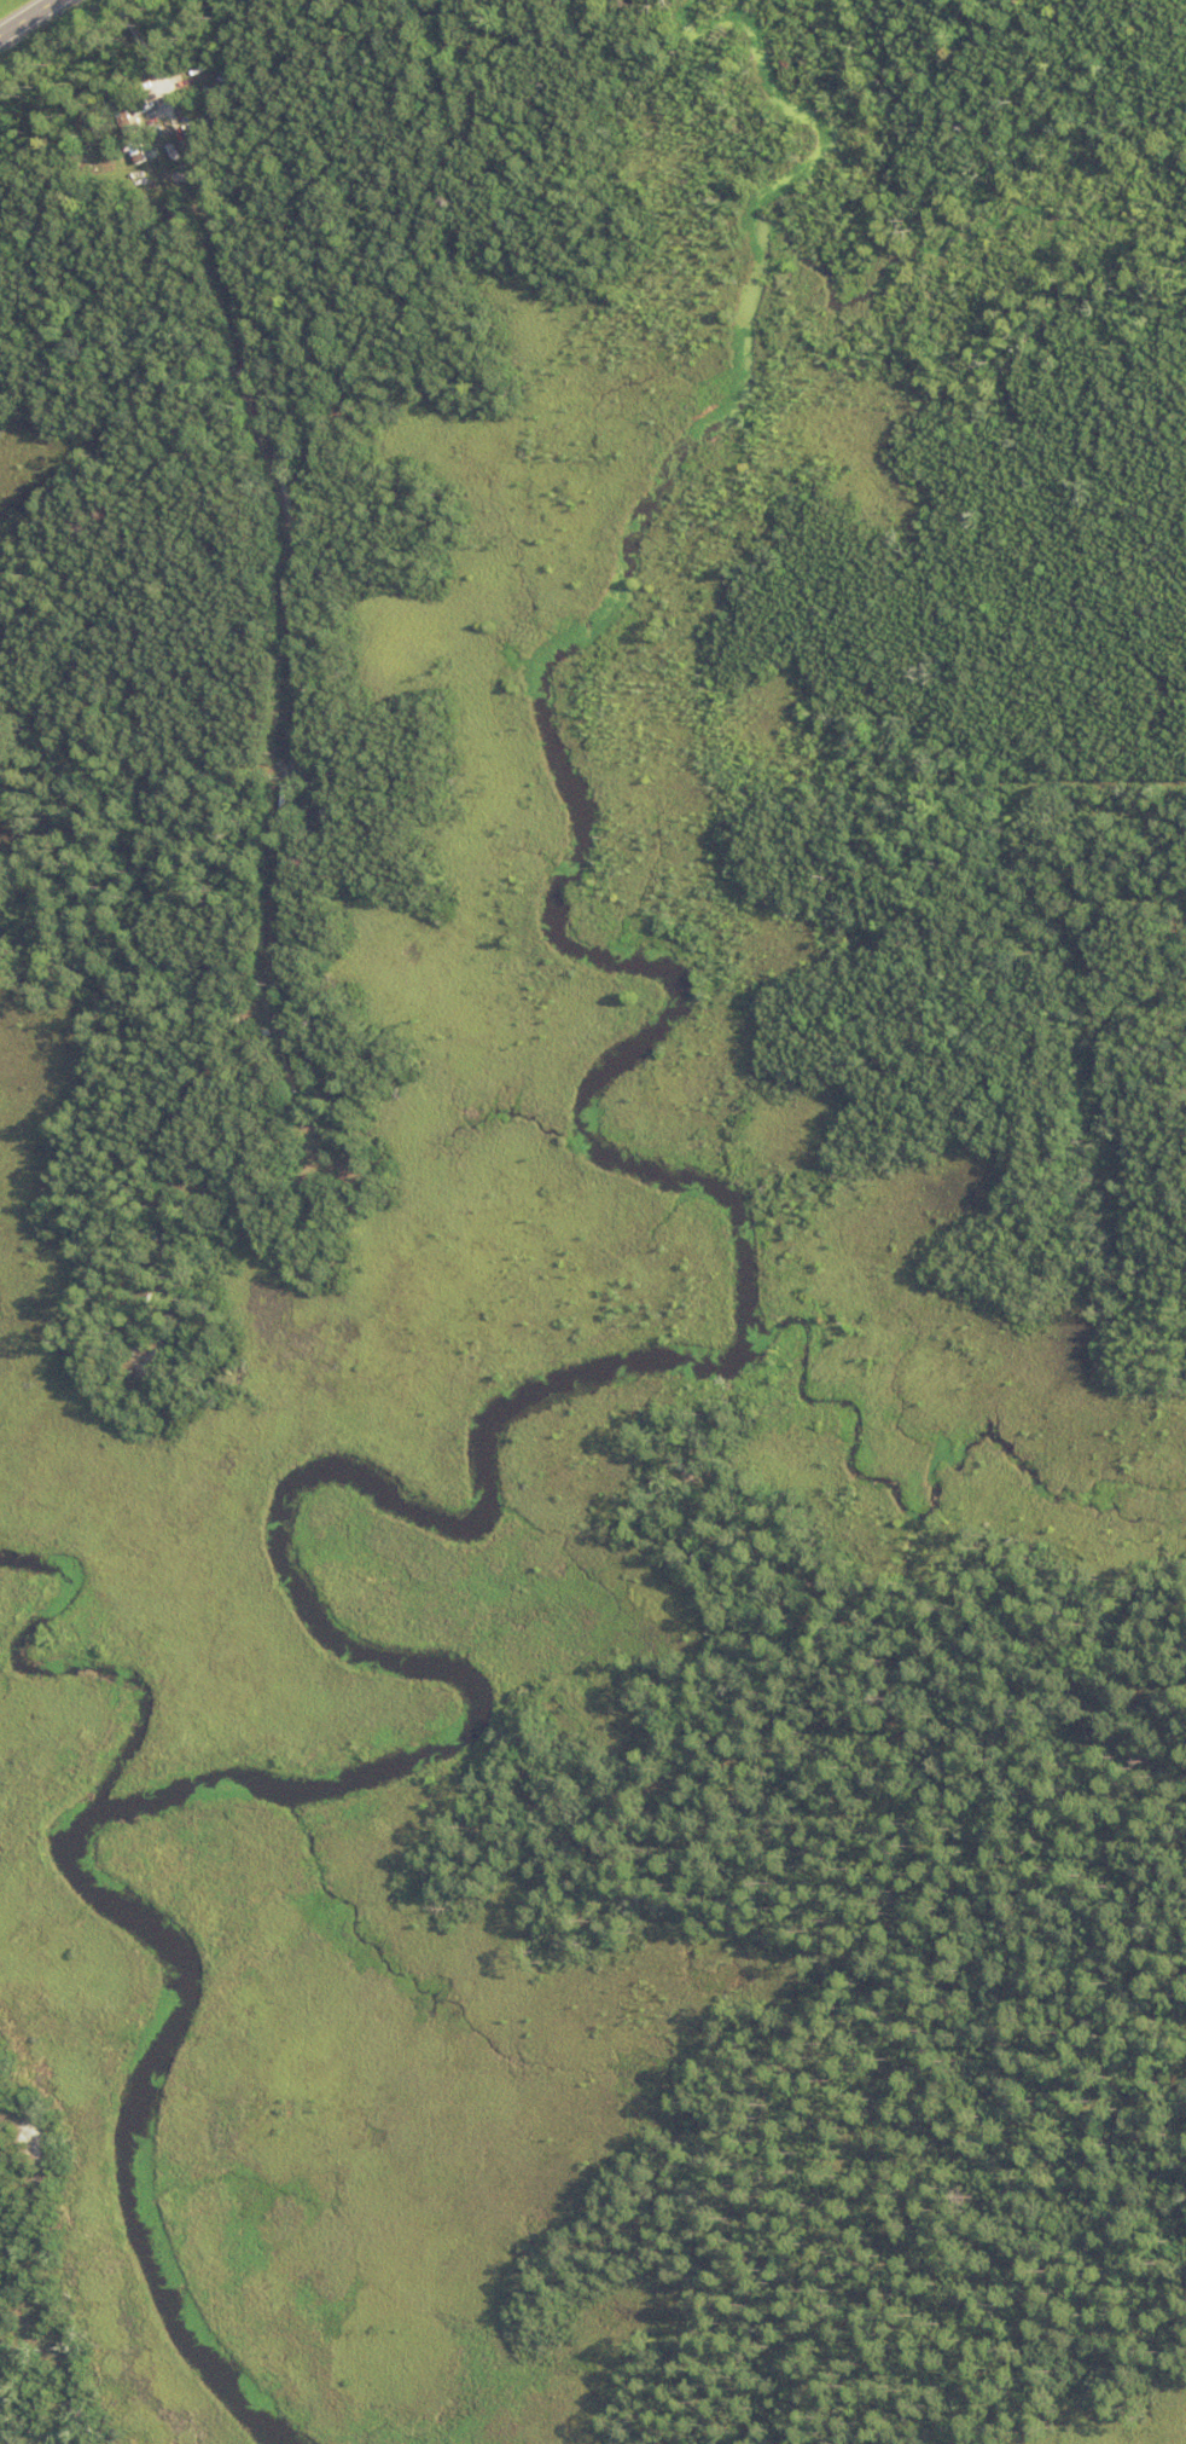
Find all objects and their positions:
road: (36, 22)
building: (144, 111)
building: (155, 126)
building: (155, 134)
building: (134, 138)
building: (174, 149)
building: (156, 154)
road: (11, 198)
building: (174, 218)
road: (1058, 806)
building: (333, 821)
river: (501, 1502)

